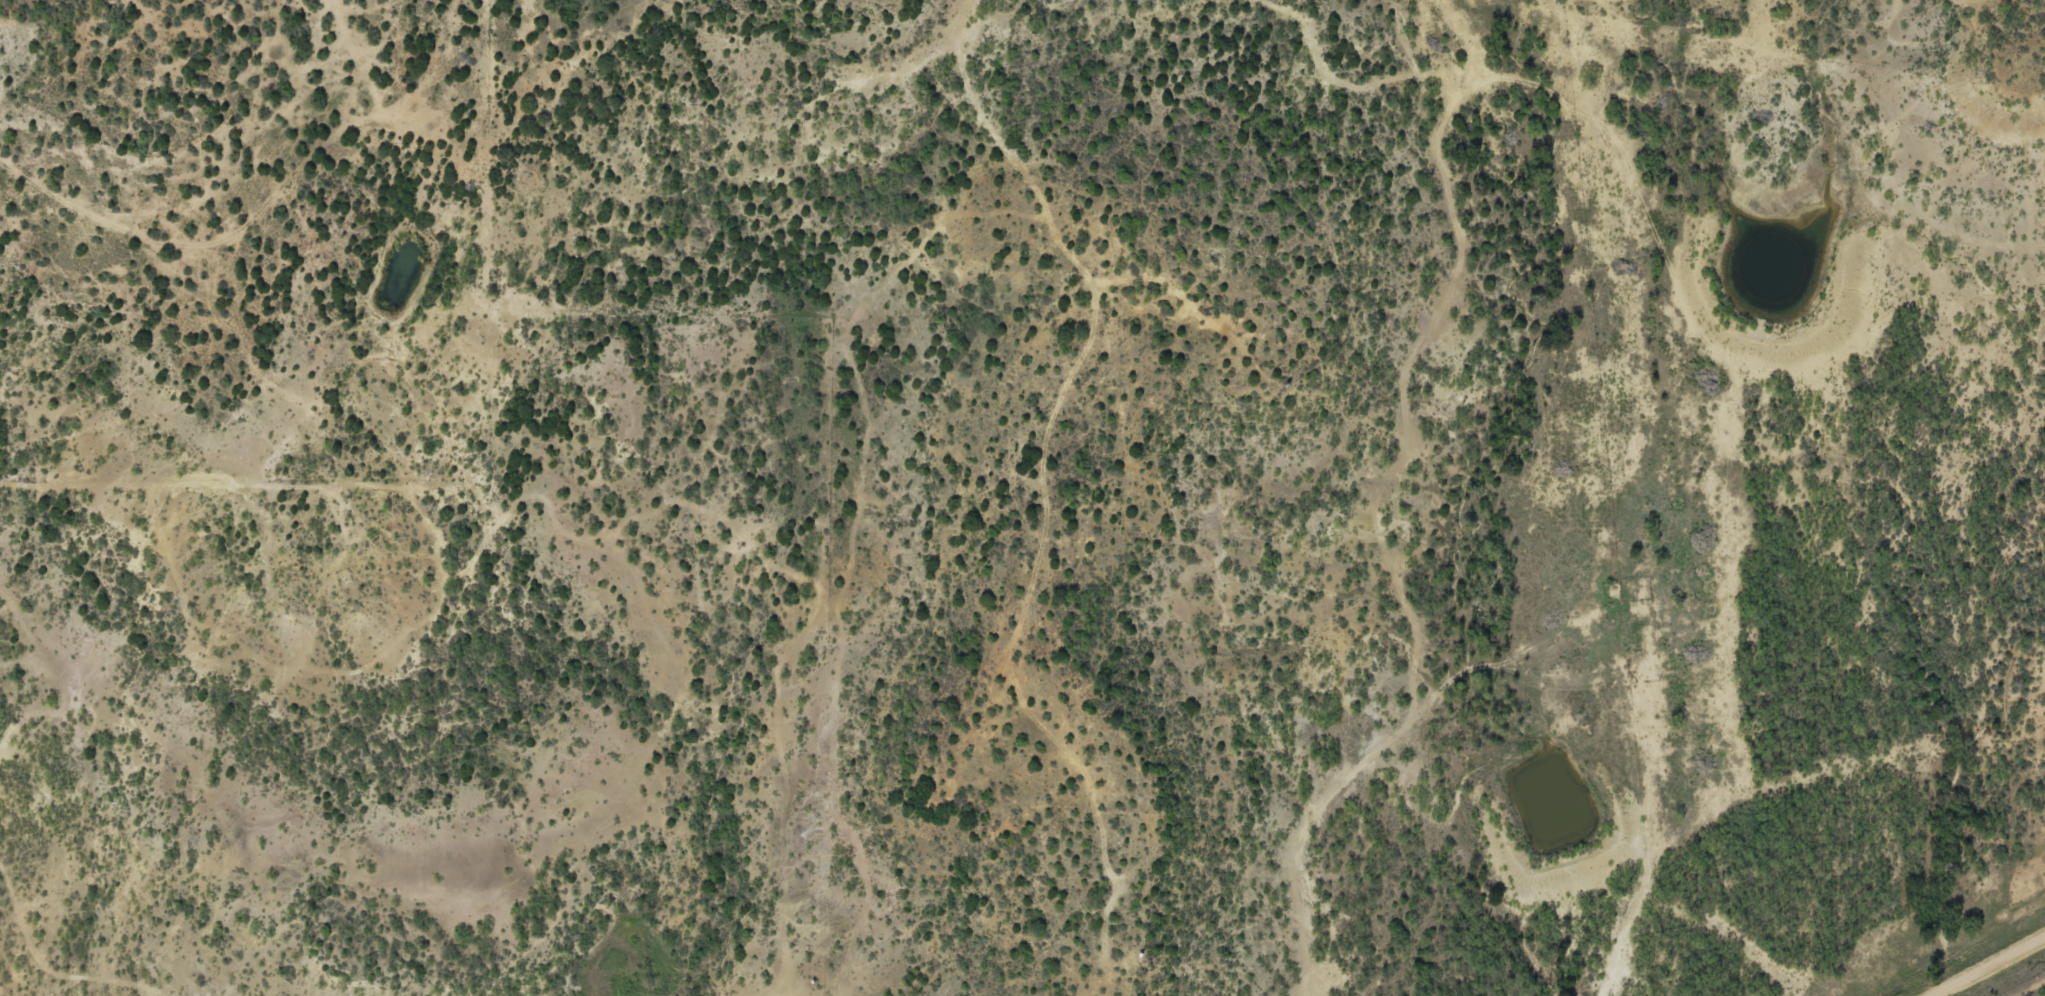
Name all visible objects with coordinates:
road: (1988, 965)

